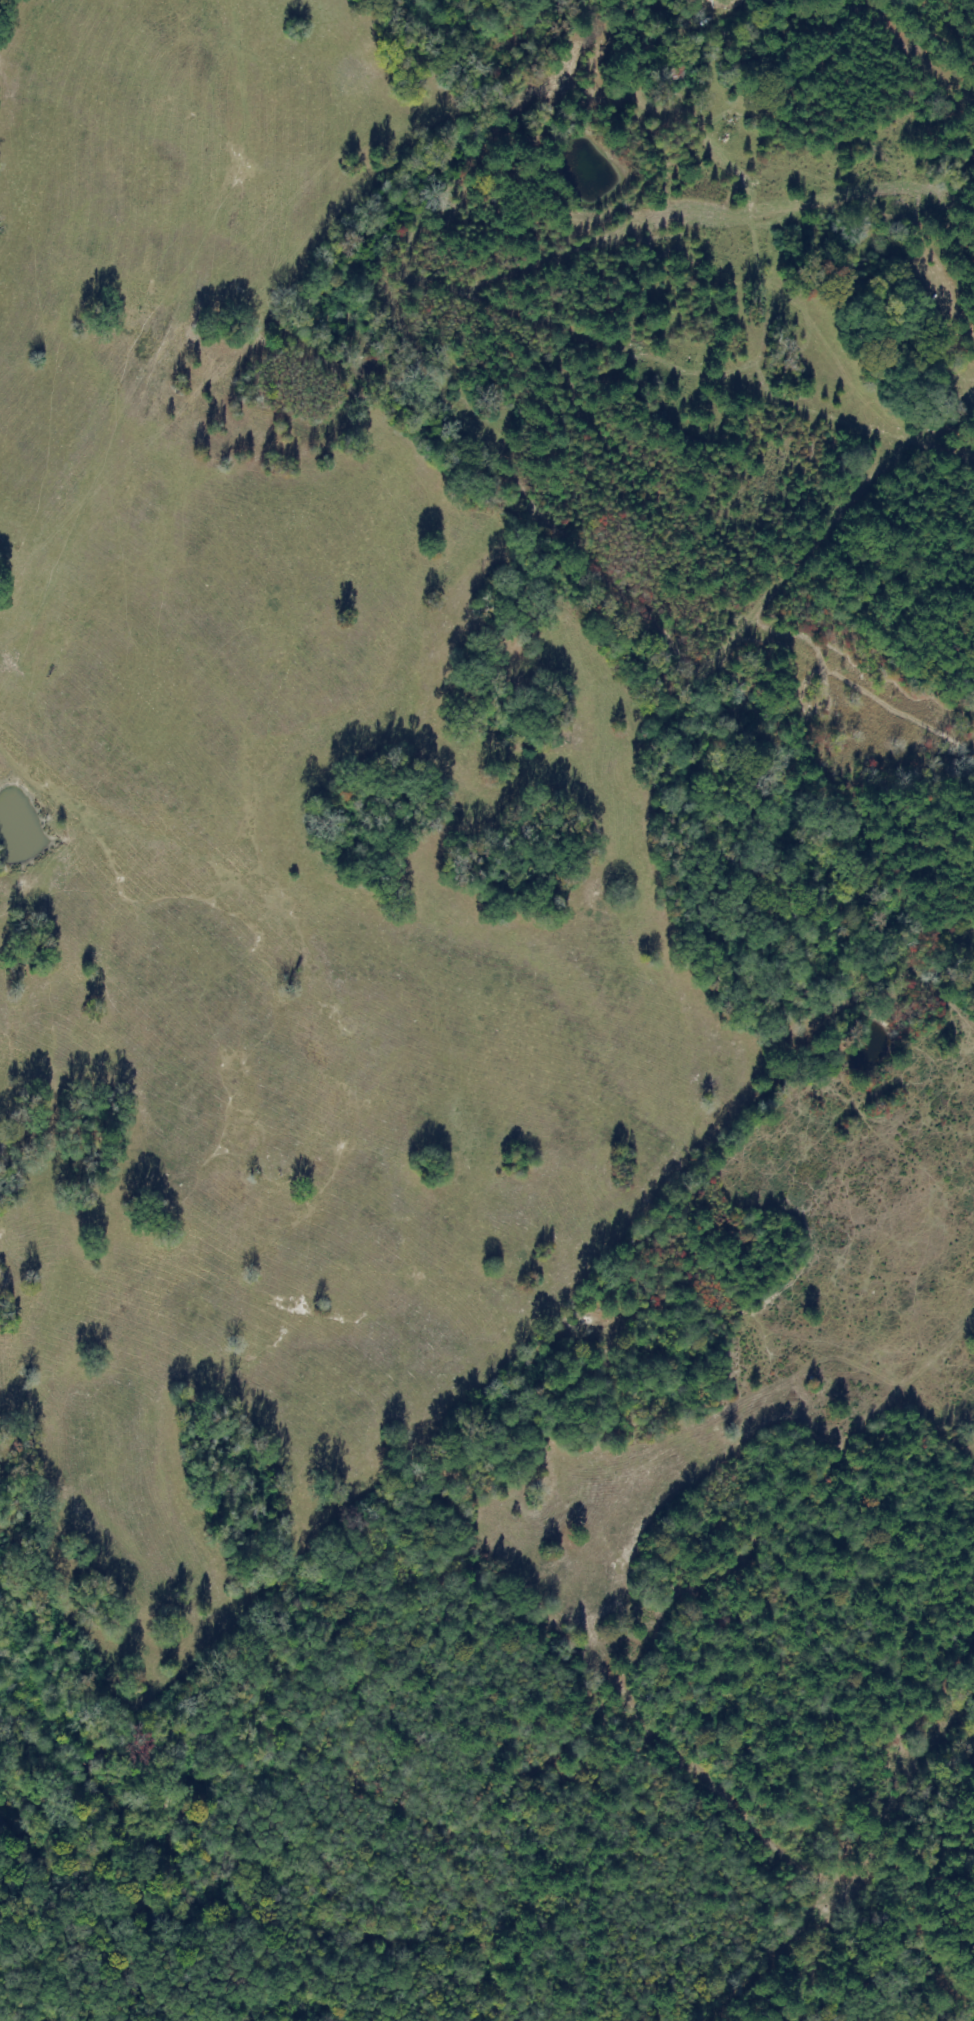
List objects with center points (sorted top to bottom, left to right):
road: (922, 48)

